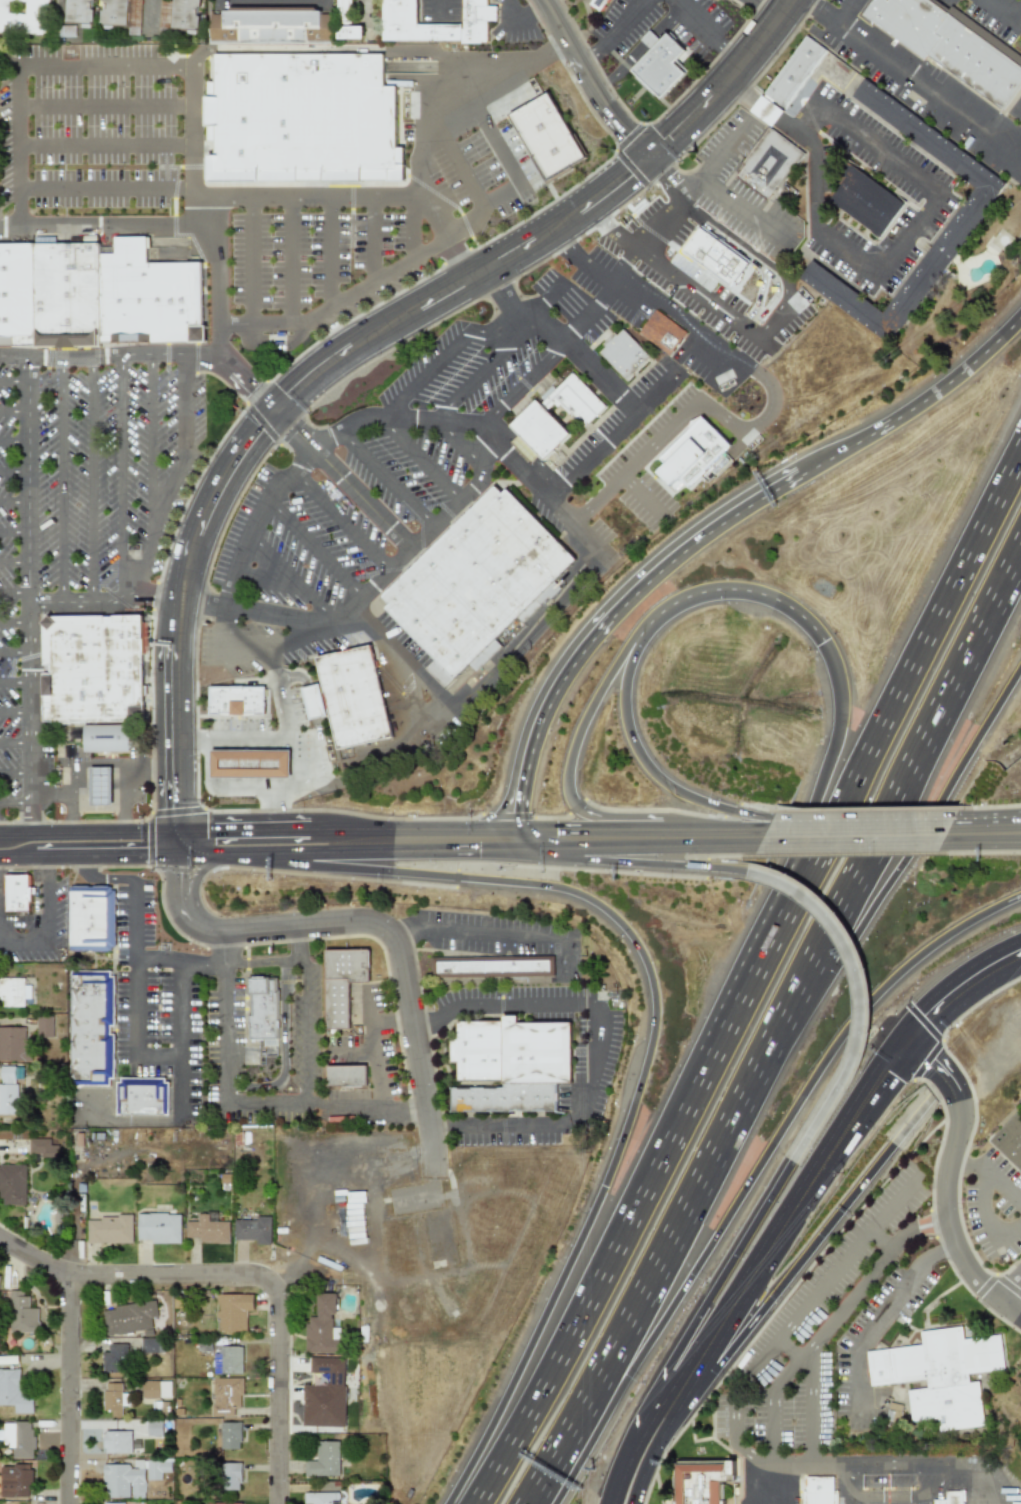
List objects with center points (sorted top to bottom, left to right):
road: (274, 0)
building: (602, 4)
road: (523, 8)
road: (1001, 9)
building: (78, 11)
road: (766, 11)
road: (841, 11)
building: (120, 12)
road: (145, 13)
building: (23, 16)
building: (185, 16)
road: (437, 16)
road: (1019, 16)
road: (697, 17)
building: (345, 22)
building: (398, 22)
building: (274, 28)
road: (516, 28)
road: (613, 33)
building: (649, 39)
building: (952, 48)
road: (109, 65)
building: (666, 71)
road: (912, 79)
road: (593, 82)
road: (727, 83)
building: (789, 83)
road: (460, 92)
road: (739, 92)
road: (109, 97)
road: (764, 109)
building: (304, 119)
parking lot: (108, 127)
road: (109, 128)
road: (493, 131)
traffic signals: (627, 132)
building: (547, 135)
traffic signals: (673, 138)
road: (20, 145)
road: (723, 151)
road: (110, 160)
building: (772, 167)
road: (458, 169)
road: (664, 172)
traffic signals: (628, 177)
road: (686, 182)
road: (674, 192)
road: (110, 193)
road: (359, 200)
road: (731, 204)
building: (870, 204)
parking lot: (1, 221)
building: (961, 222)
road: (103, 227)
road: (412, 230)
parking lot: (357, 231)
road: (616, 233)
road: (384, 237)
road: (732, 242)
road: (900, 244)
road: (352, 247)
road: (564, 247)
building: (712, 254)
road: (320, 256)
road: (286, 262)
road: (255, 263)
road: (379, 279)
road: (699, 297)
building: (70, 298)
road: (543, 298)
building: (18, 299)
building: (152, 301)
road: (661, 303)
road: (773, 311)
road: (518, 313)
road: (218, 317)
road: (517, 329)
building: (665, 335)
road: (439, 357)
building: (627, 358)
road: (599, 374)
road: (470, 379)
road: (12, 381)
road: (246, 382)
road: (282, 406)
road: (917, 406)
road: (693, 410)
road: (13, 411)
traffic signals: (277, 412)
road: (394, 419)
building: (536, 420)
road: (610, 432)
road: (150, 436)
road: (13, 441)
road: (485, 447)
road: (461, 450)
building: (688, 459)
road: (423, 460)
road: (518, 462)
road: (13, 471)
road: (121, 478)
road: (172, 478)
road: (386, 478)
road: (90, 479)
road: (343, 480)
road: (61, 481)
road: (644, 498)
road: (13, 500)
parking lot: (83, 501)
road: (253, 517)
road: (338, 522)
road: (14, 529)
road: (312, 549)
road: (14, 562)
road: (291, 575)
road: (267, 579)
building: (480, 586)
road: (745, 589)
road: (14, 592)
road: (29, 593)
road: (106, 600)
road: (261, 608)
road: (553, 609)
road: (610, 615)
road: (15, 621)
road: (246, 643)
road: (15, 650)
road: (404, 659)
building: (91, 666)
road: (293, 674)
road: (15, 681)
road: (310, 699)
building: (236, 700)
building: (312, 702)
building: (358, 703)
road: (15, 712)
road: (315, 724)
road: (586, 724)
road: (288, 728)
road: (242, 740)
road: (186, 741)
road: (16, 742)
building: (108, 743)
road: (643, 752)
road: (314, 756)
road: (124, 757)
road: (205, 764)
building: (249, 764)
road: (16, 771)
road: (304, 782)
road: (251, 785)
building: (99, 786)
road: (124, 791)
road: (69, 792)
road: (50, 800)
road: (16, 801)
traffic signals: (180, 803)
road: (276, 804)
road: (987, 810)
road: (863, 814)
road: (769, 816)
road: (712, 818)
road: (640, 821)
road: (567, 823)
road: (245, 824)
traffic signals: (515, 824)
traffic signals: (208, 825)
road: (152, 826)
road: (412, 826)
road: (62, 827)
road: (528, 836)
road: (17, 837)
road: (181, 840)
traffic signals: (541, 848)
road: (977, 849)
road: (407, 850)
road: (647, 850)
road: (844, 850)
road: (247, 853)
road: (201, 854)
road: (107, 855)
traffic signals: (140, 855)
road: (16, 857)
road: (641, 862)
road: (49, 864)
road: (196, 877)
road: (101, 878)
traffic signals: (182, 879)
road: (853, 881)
building: (17, 891)
road: (49, 908)
road: (771, 915)
building: (92, 916)
road: (378, 926)
road: (405, 929)
road: (510, 932)
road: (854, 934)
road: (295, 943)
road: (24, 945)
road: (223, 948)
road: (261, 960)
road: (178, 961)
road: (302, 961)
building: (495, 966)
road: (135, 968)
building: (342, 981)
road: (756, 987)
building: (14, 991)
road: (959, 992)
road: (860, 995)
road: (514, 1003)
building: (262, 1008)
traffic signals: (935, 1014)
road: (426, 1016)
road: (391, 1021)
building: (44, 1026)
road: (304, 1026)
building: (92, 1028)
road: (223, 1032)
road: (181, 1041)
building: (14, 1043)
road: (281, 1048)
road: (352, 1048)
road: (648, 1051)
road: (158, 1057)
building: (510, 1065)
traffic signals: (934, 1065)
road: (375, 1066)
traffic signals: (889, 1072)
building: (346, 1076)
building: (8, 1090)
building: (141, 1096)
road: (305, 1097)
road: (264, 1104)
road: (367, 1108)
road: (576, 1116)
road: (128, 1120)
road: (444, 1127)
building: (1009, 1141)
building: (42, 1147)
road: (965, 1166)
road: (754, 1175)
building: (13, 1183)
road: (1002, 1183)
road: (947, 1184)
building: (354, 1212)
road: (983, 1217)
road: (788, 1221)
building: (158, 1228)
building: (108, 1230)
building: (207, 1230)
building: (252, 1230)
road: (806, 1252)
road: (133, 1278)
road: (712, 1289)
road: (1011, 1295)
road: (884, 1310)
building: (232, 1312)
building: (21, 1314)
building: (128, 1318)
building: (321, 1327)
building: (150, 1345)
road: (607, 1356)
building: (115, 1358)
building: (227, 1360)
building: (940, 1376)
building: (155, 1389)
road: (71, 1391)
road: (277, 1391)
building: (13, 1392)
road: (807, 1393)
building: (324, 1394)
building: (225, 1396)
building: (111, 1398)
road: (666, 1415)
building: (157, 1428)
building: (229, 1436)
building: (19, 1439)
building: (116, 1442)
road: (742, 1449)
building: (324, 1460)
road: (774, 1462)
road: (814, 1463)
road: (931, 1463)
road: (638, 1464)
building: (156, 1469)
building: (230, 1477)
building: (15, 1481)
building: (123, 1481)
building: (701, 1486)
building: (824, 1491)
road: (913, 1497)
building: (320, 1498)
building: (958, 1498)
building: (113, 1503)
building: (222, 1503)

